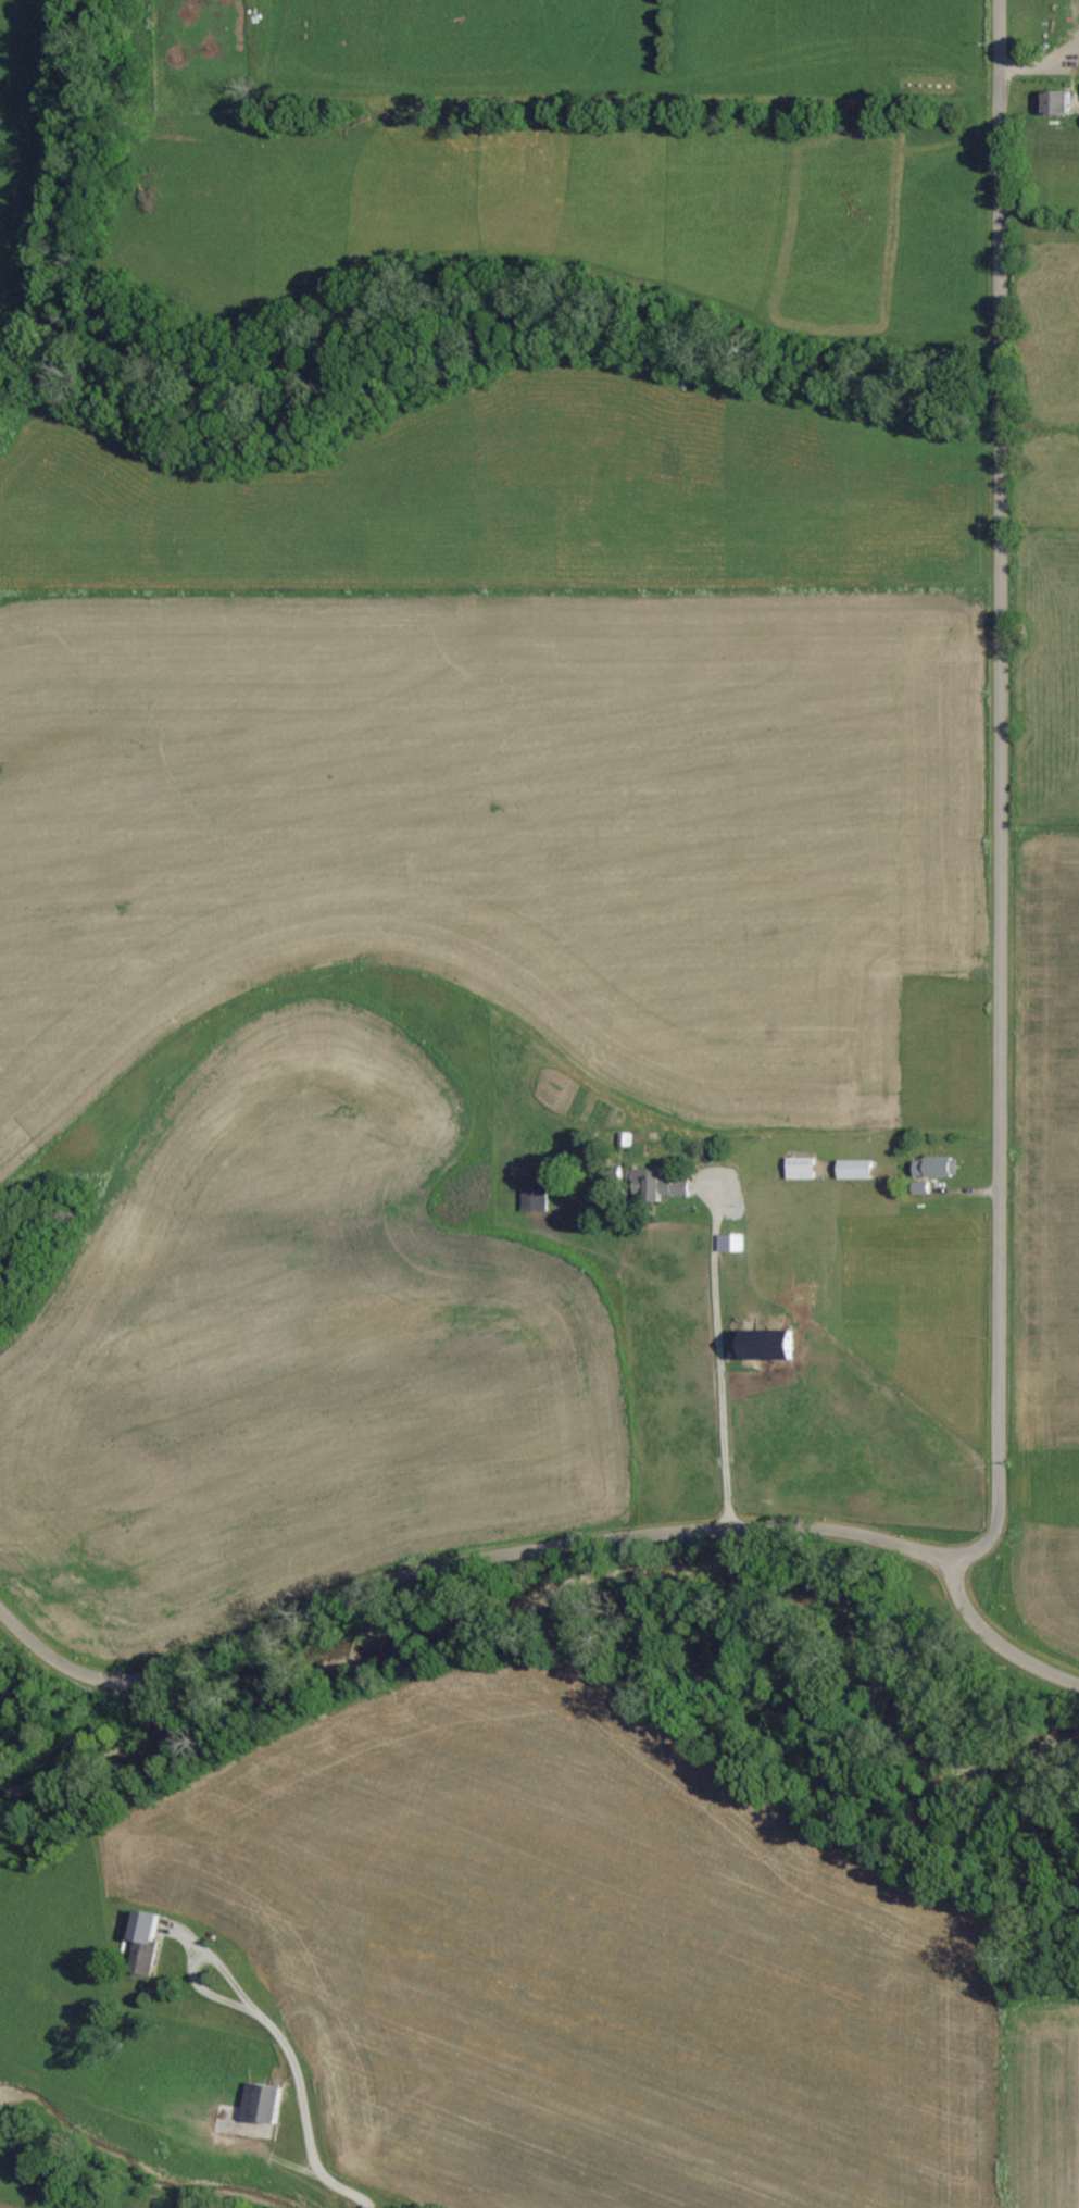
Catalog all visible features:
building: (1057, 103)
road: (1021, 785)
building: (801, 1168)
building: (937, 1168)
building: (855, 1170)
building: (666, 1187)
building: (532, 1199)
building: (730, 1243)
building: (768, 1345)
road: (718, 1373)
road: (488, 1531)
road: (1044, 1610)
building: (146, 1928)
road: (248, 2004)
building: (251, 2115)
road: (335, 2183)

